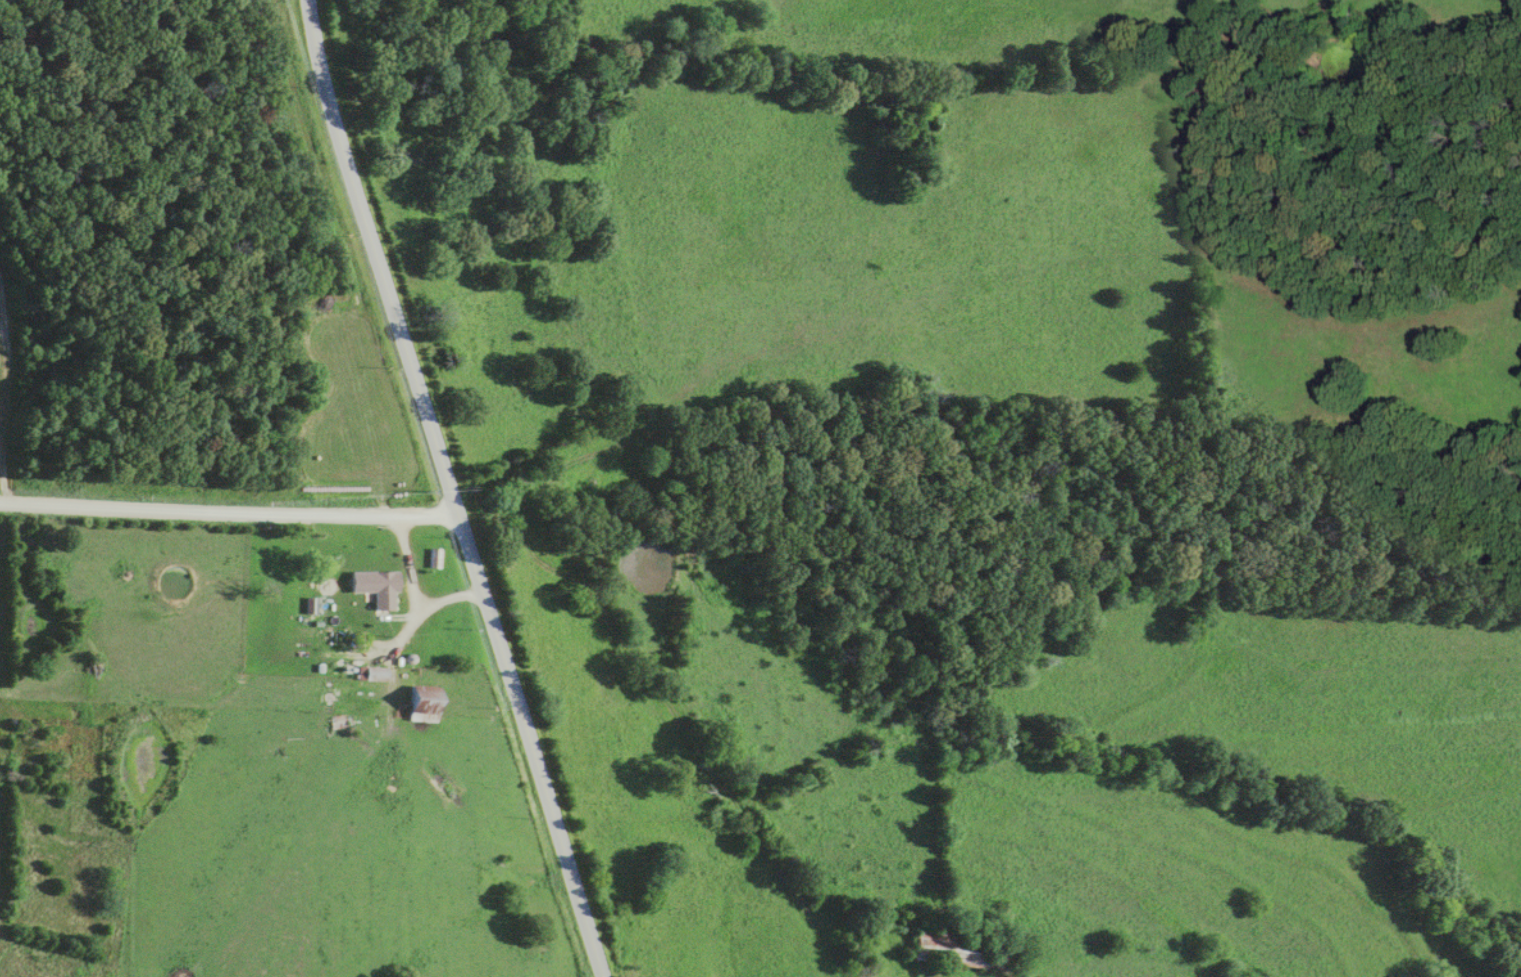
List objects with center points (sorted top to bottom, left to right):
road: (448, 488)
road: (227, 504)
building: (381, 589)
building: (373, 675)
building: (420, 705)
building: (339, 729)
building: (953, 951)

